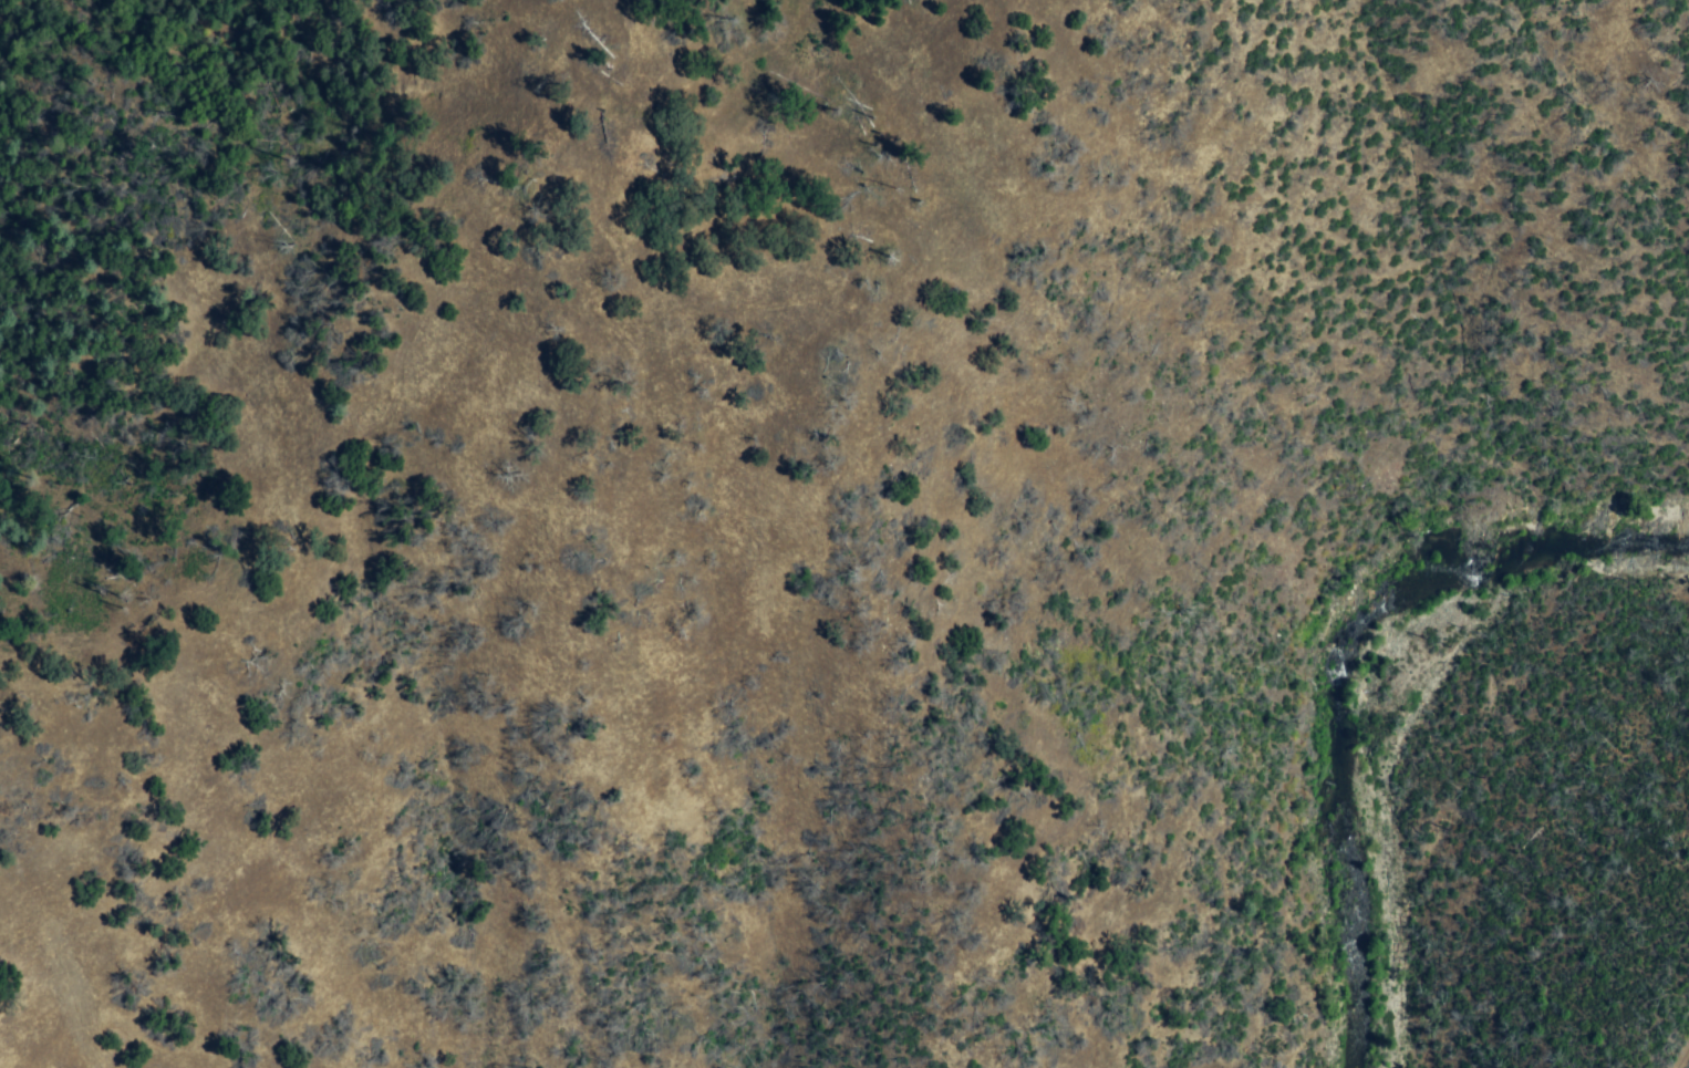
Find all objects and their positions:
river: (1348, 670)

